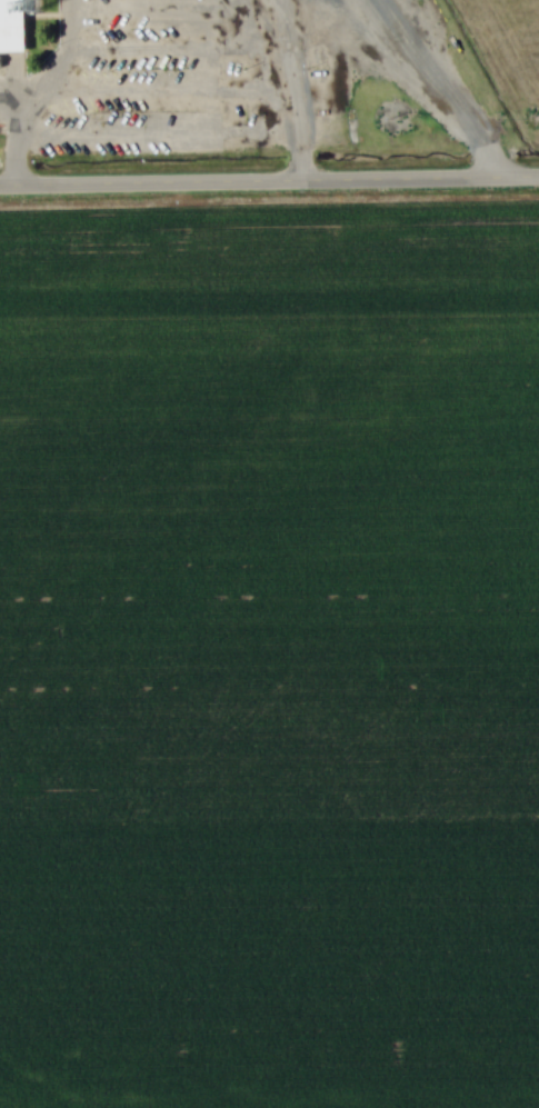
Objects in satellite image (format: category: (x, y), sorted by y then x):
building: (13, 26)
parking lot: (201, 84)
road: (435, 90)
road: (32, 91)
road: (8, 101)
road: (234, 136)
road: (303, 160)
road: (269, 184)
crop: (269, 653)

